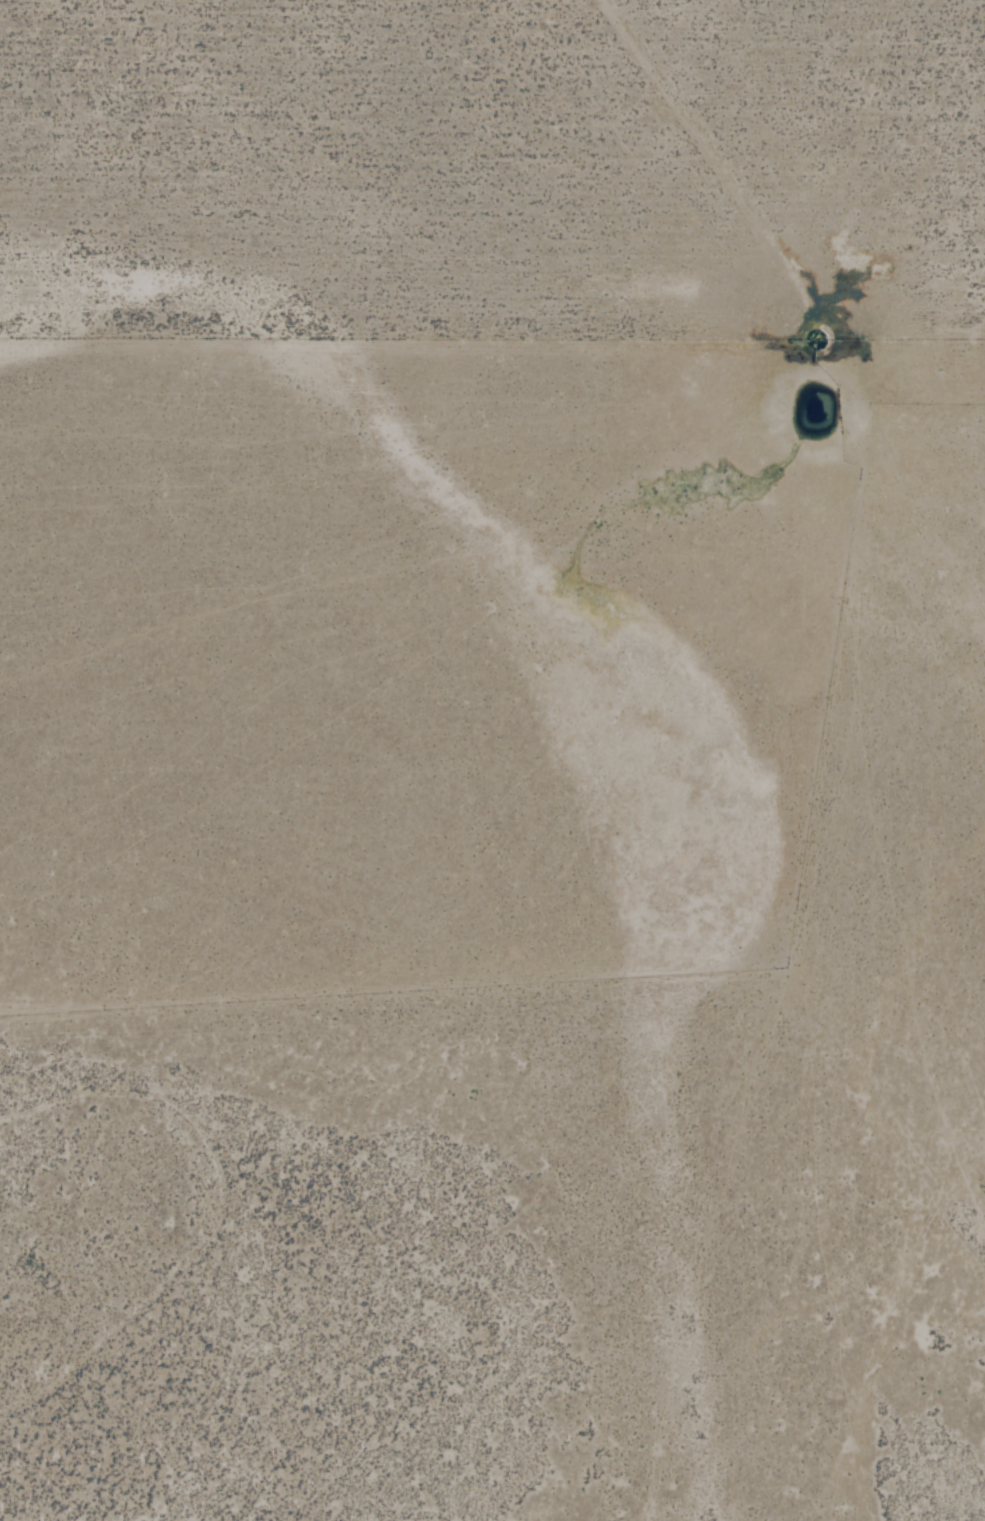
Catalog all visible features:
road: (719, 138)

